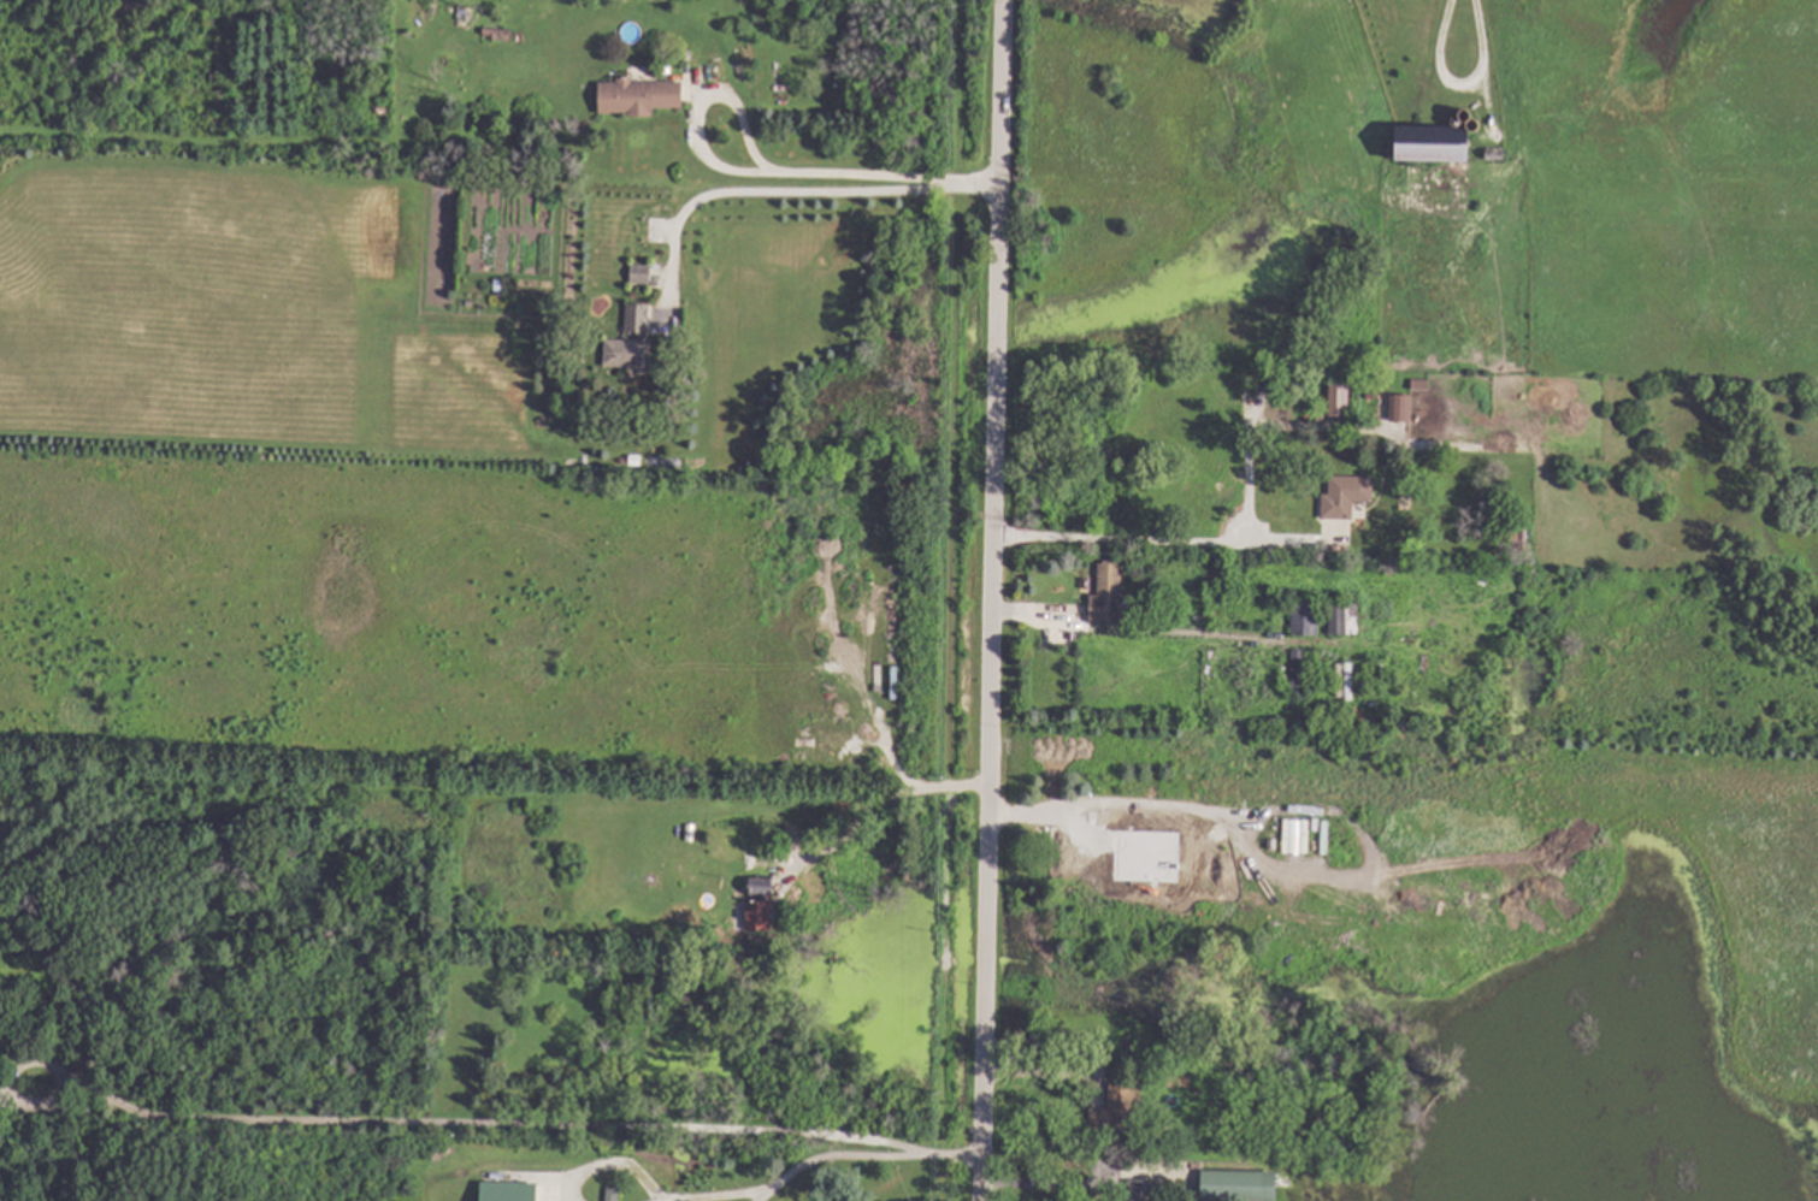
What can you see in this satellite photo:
building: (498, 32)
building: (319, 58)
building: (667, 67)
road: (1456, 85)
building: (639, 95)
building: (382, 110)
building: (1432, 144)
building: (1495, 153)
road: (761, 165)
crop: (1664, 182)
road: (790, 195)
building: (642, 273)
building: (500, 284)
building: (476, 289)
building: (638, 318)
crop: (237, 325)
building: (626, 351)
building: (1419, 384)
building: (1371, 396)
building: (1400, 407)
building: (1339, 409)
building: (624, 458)
building: (636, 458)
building: (1347, 495)
building: (1511, 533)
road: (1156, 542)
building: (1341, 550)
building: (1108, 594)
road: (993, 600)
building: (1305, 619)
building: (1344, 619)
building: (1299, 669)
road: (878, 811)
building: (1298, 824)
building: (1273, 844)
building: (1099, 845)
road: (1265, 857)
crop: (1651, 871)
building: (757, 904)
building: (684, 928)
building: (1180, 1082)
building: (1120, 1110)
road: (453, 1125)
road: (863, 1159)
road: (613, 1165)
building: (1235, 1185)
road: (1057, 1187)
building: (507, 1190)
building: (1141, 1190)
building: (613, 1194)
road: (719, 1194)

